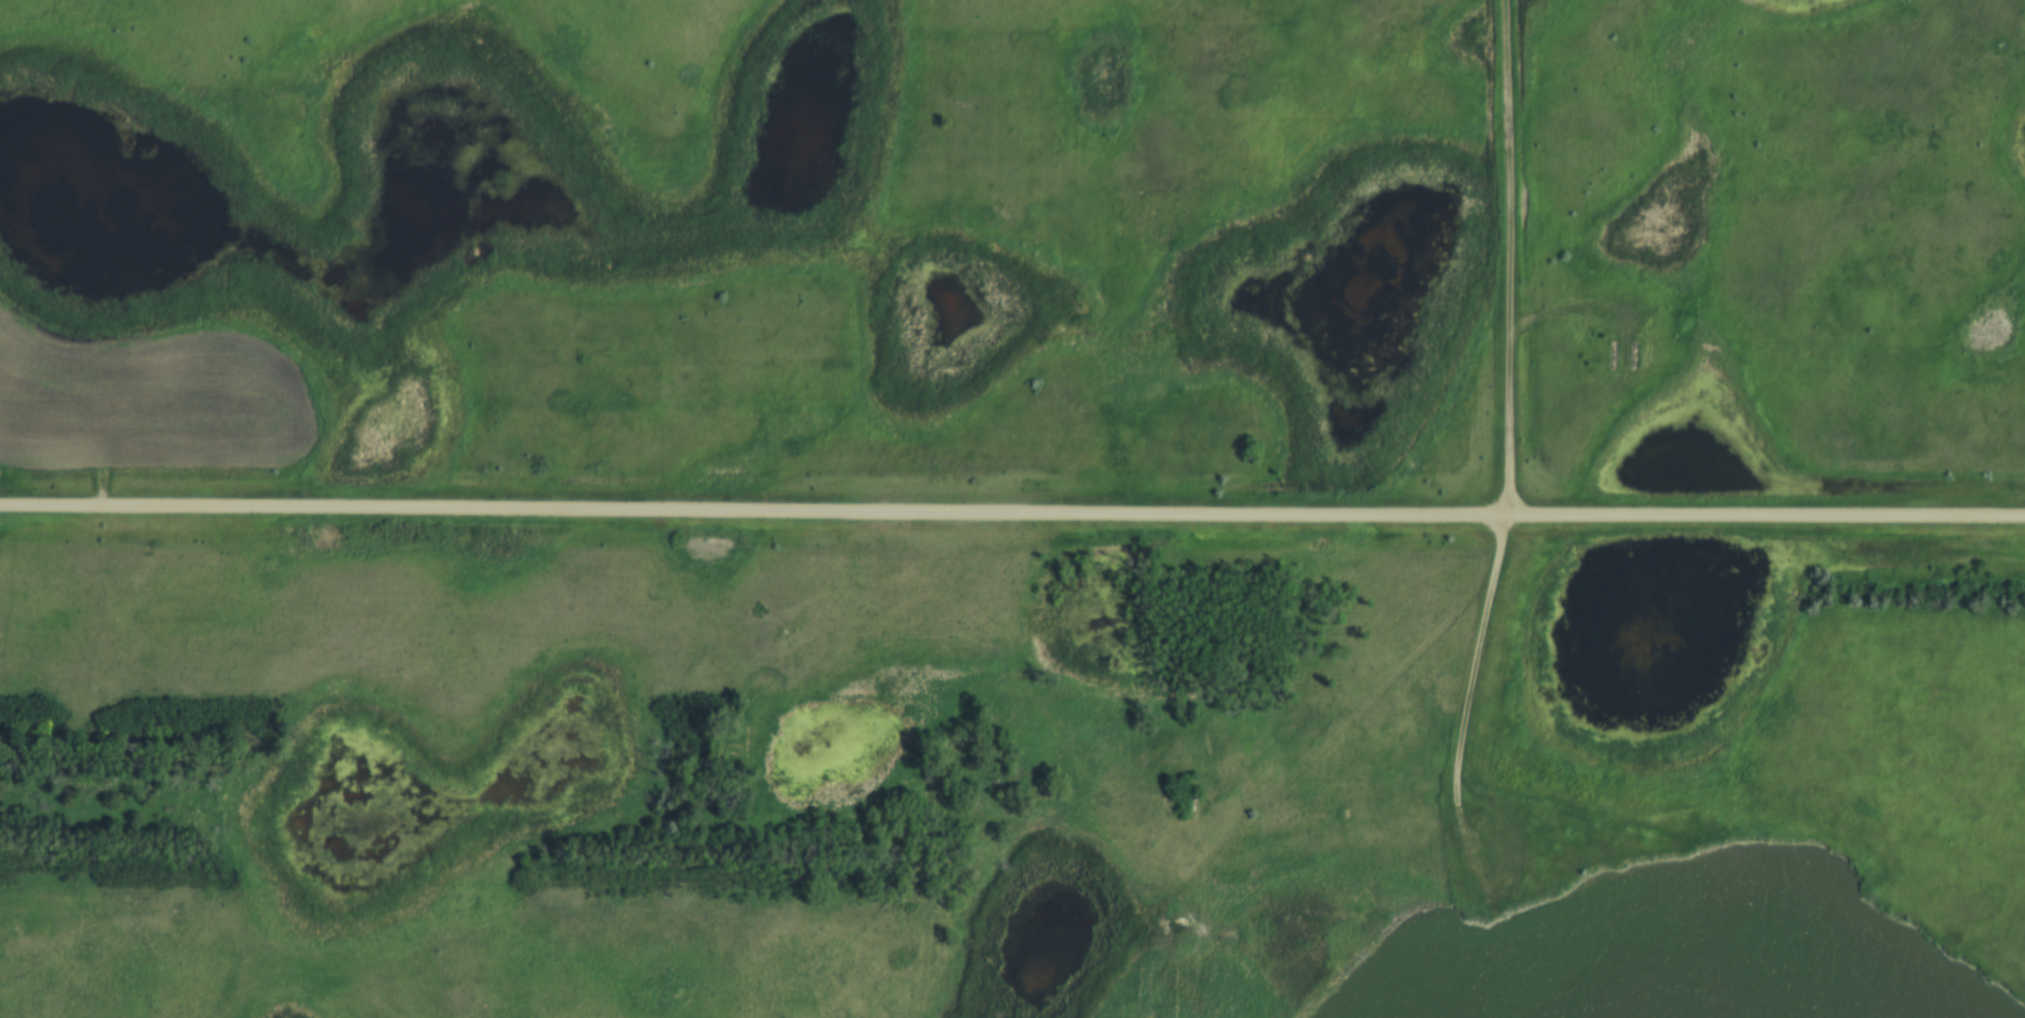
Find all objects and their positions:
road: (1513, 257)
road: (1012, 517)
road: (1471, 715)

